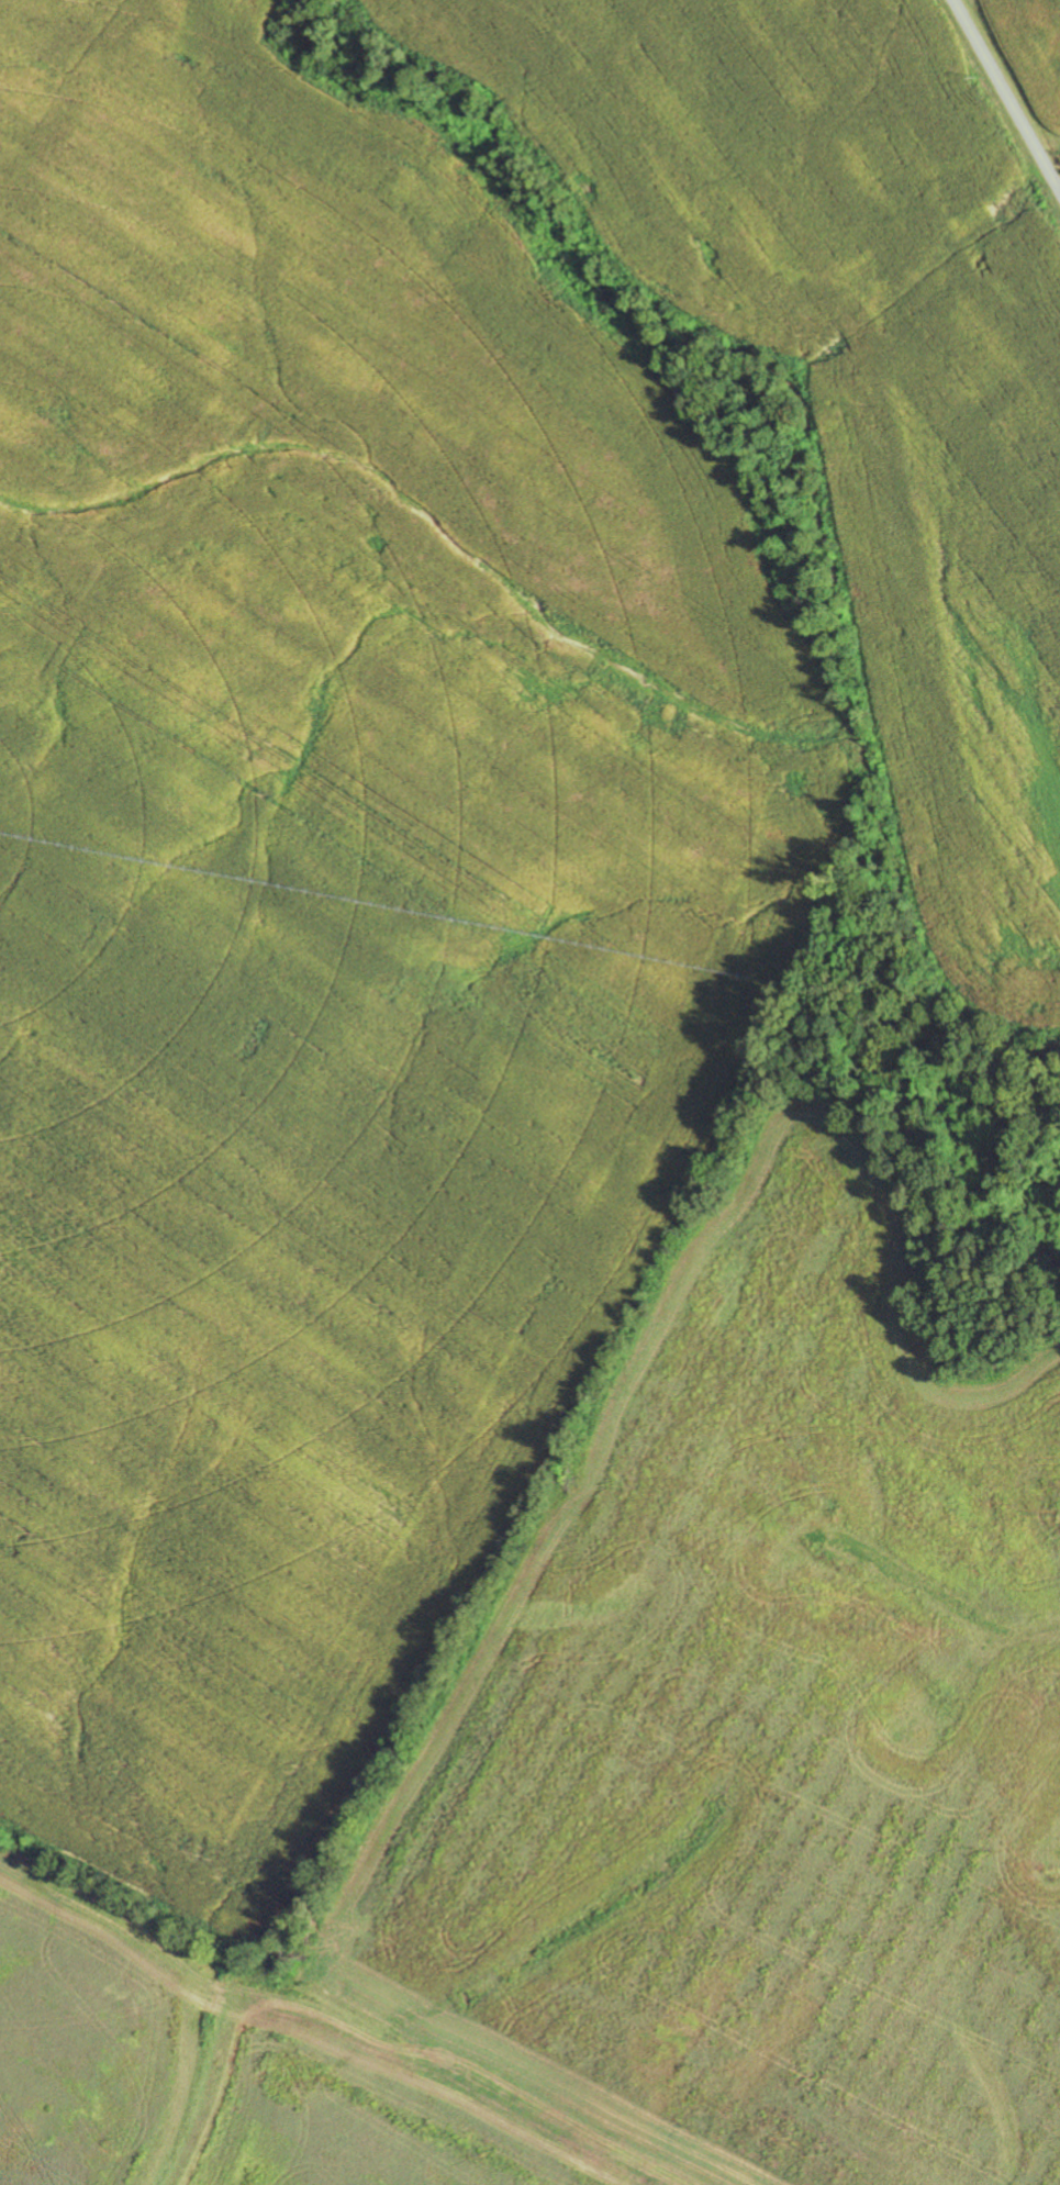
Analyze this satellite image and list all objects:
road: (1007, 92)

